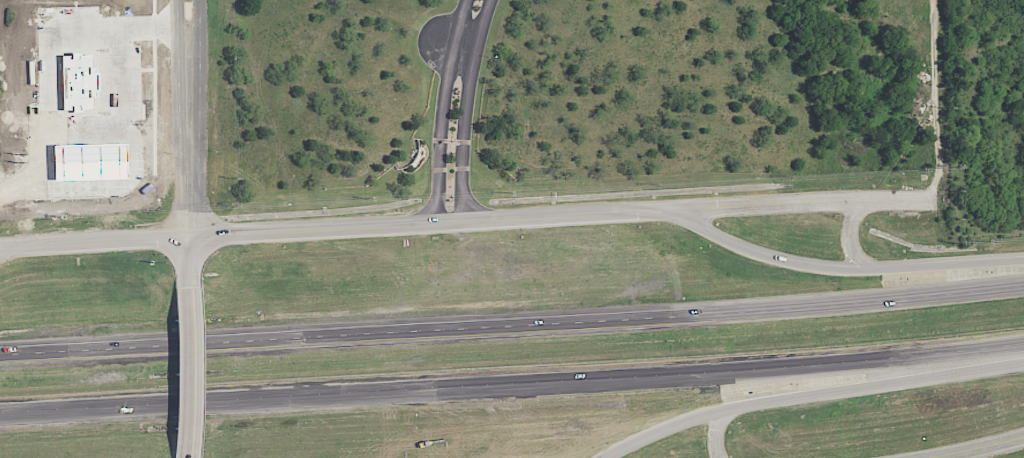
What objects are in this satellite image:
road: (182, 40)
road: (197, 40)
road: (455, 44)
road: (45, 61)
building: (76, 82)
road: (467, 109)
road: (444, 110)
road: (84, 135)
road: (131, 152)
building: (87, 161)
gas station: (87, 161)
road: (191, 184)
road: (799, 203)
road: (344, 228)
road: (850, 237)
road: (12, 247)
road: (11, 251)
road: (839, 266)
road: (512, 330)
road: (190, 372)
road: (512, 383)
road: (815, 396)
road: (715, 432)
road: (986, 449)

